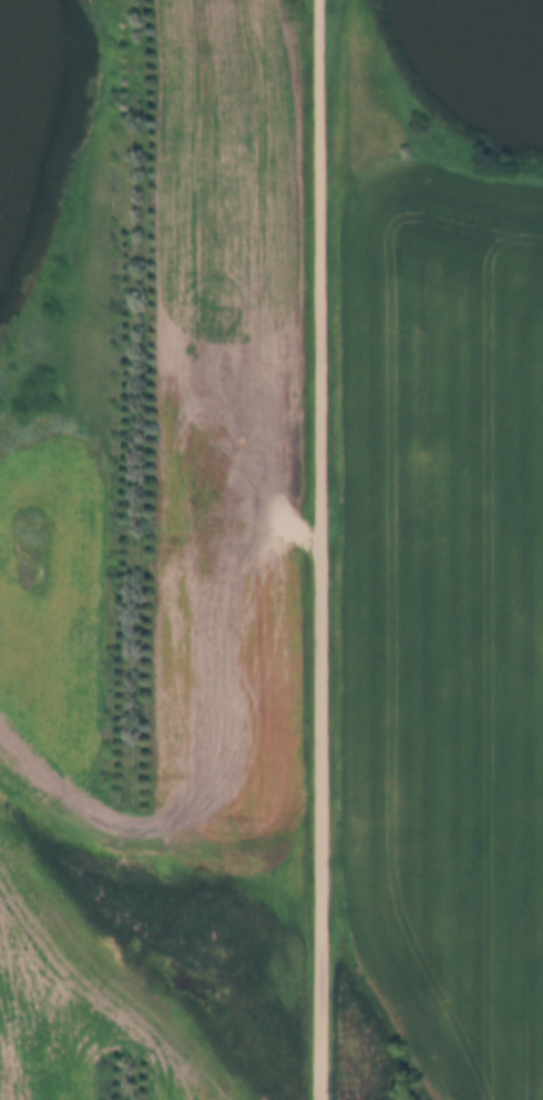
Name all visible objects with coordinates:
road: (317, 549)

